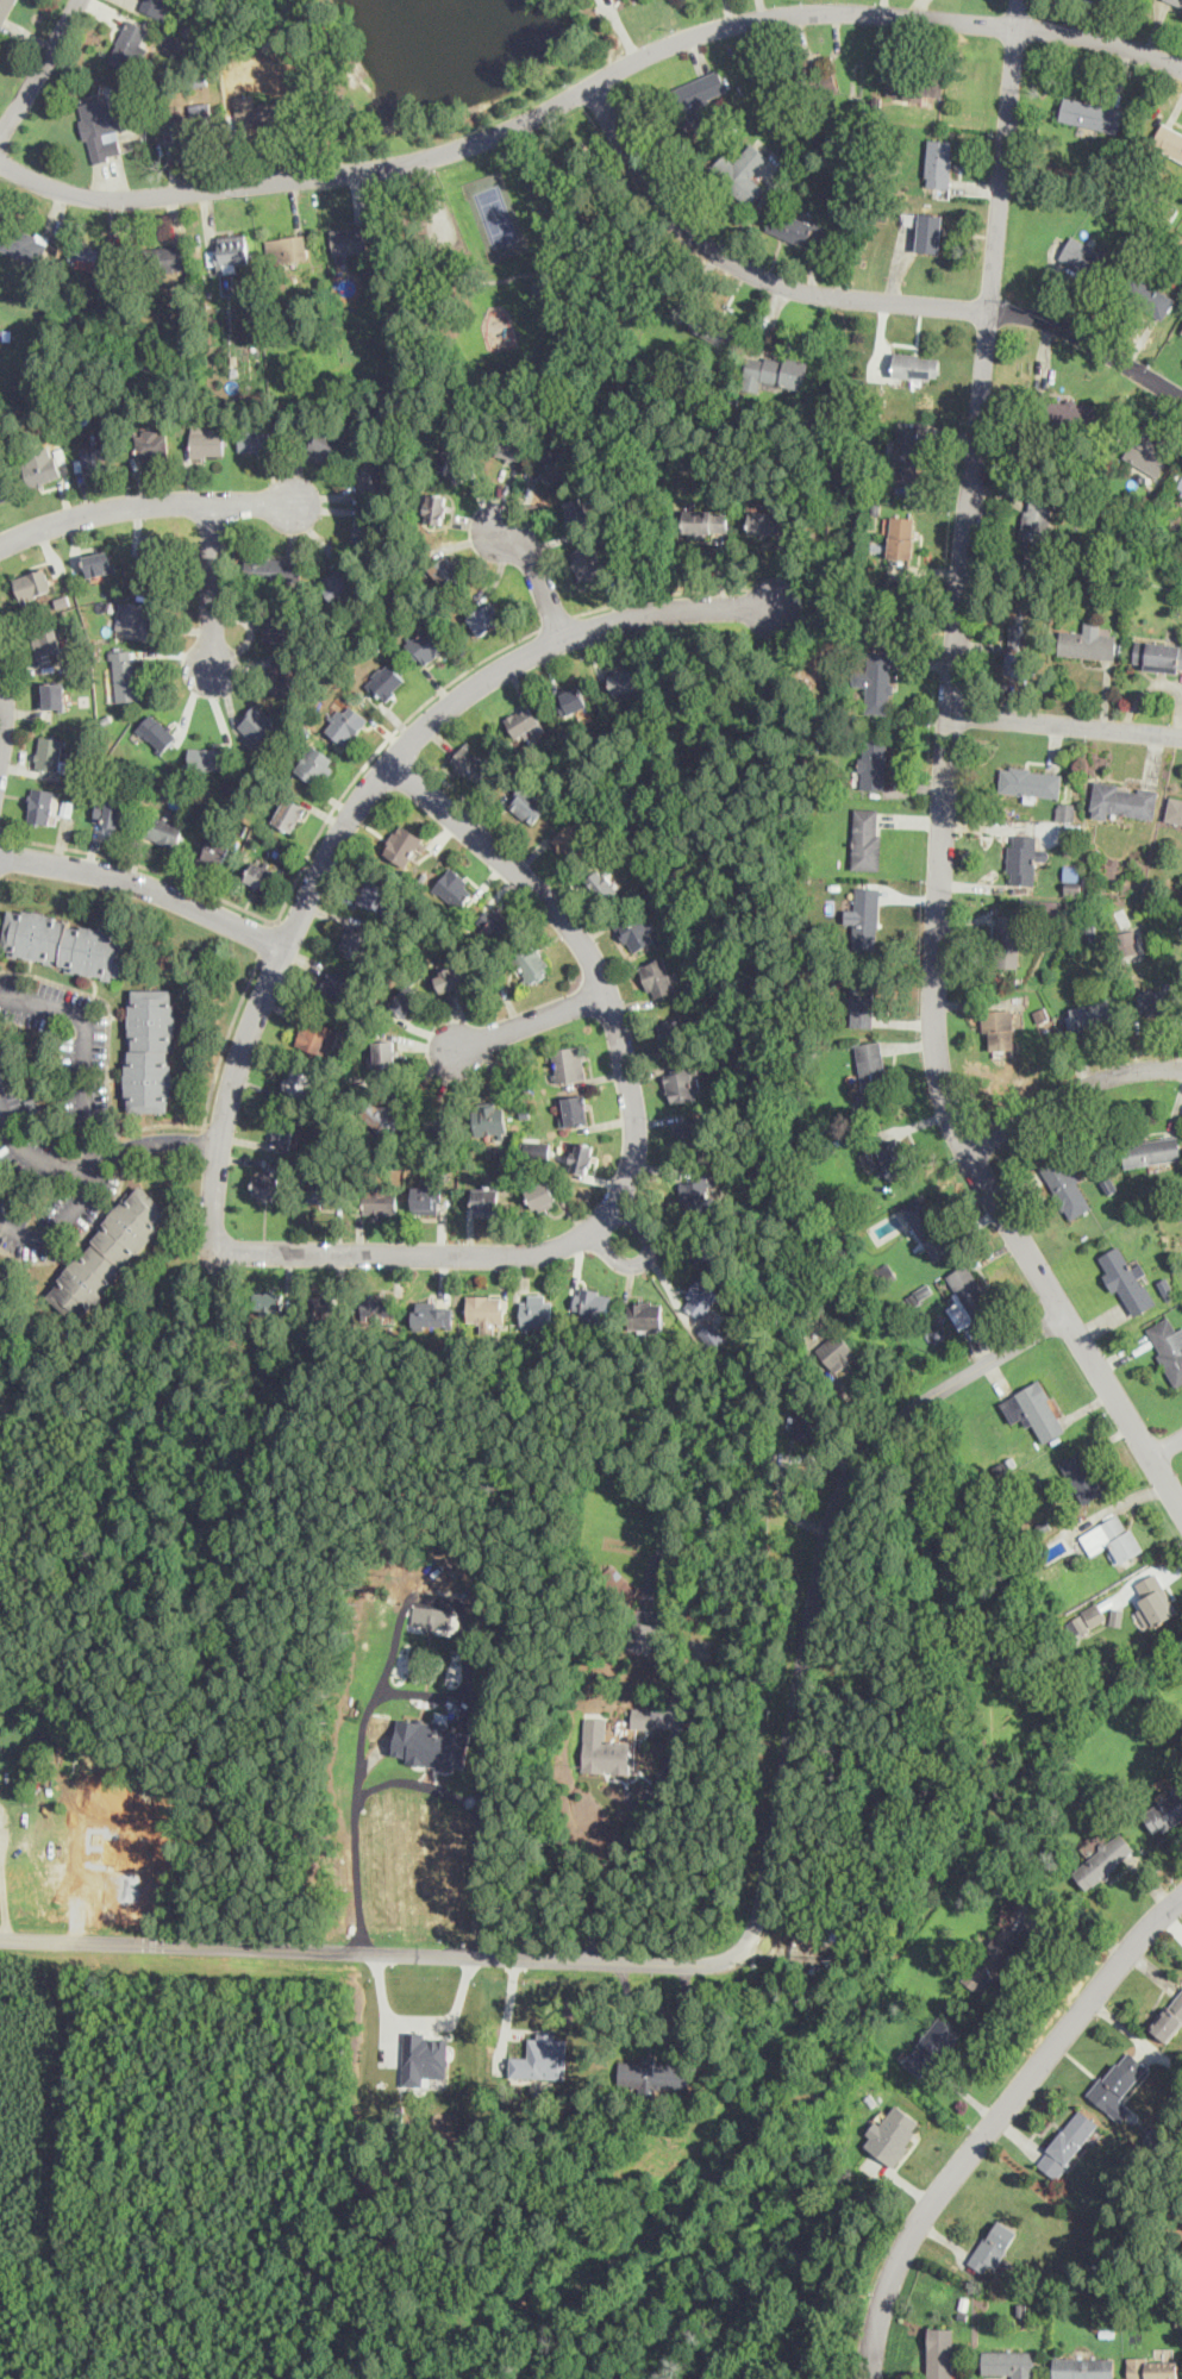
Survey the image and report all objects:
building: (594, 0)
building: (1176, 1)
building: (155, 6)
building: (5, 8)
building: (129, 44)
road: (40, 69)
road: (587, 84)
building: (914, 84)
building: (693, 95)
building: (256, 111)
building: (1090, 113)
building: (192, 123)
building: (100, 127)
building: (1169, 139)
building: (938, 162)
building: (742, 173)
park: (498, 215)
building: (800, 227)
building: (930, 232)
building: (350, 240)
building: (23, 243)
building: (287, 248)
building: (229, 252)
building: (92, 258)
building: (168, 258)
building: (1088, 258)
park: (532, 269)
building: (540, 286)
road: (849, 296)
building: (1149, 298)
building: (713, 328)
building: (2, 332)
building: (914, 365)
building: (774, 371)
building: (1071, 413)
building: (256, 437)
building: (151, 440)
building: (207, 440)
building: (329, 443)
building: (512, 446)
building: (1147, 449)
building: (99, 451)
building: (905, 455)
building: (452, 461)
building: (556, 464)
building: (43, 470)
building: (375, 480)
building: (1180, 483)
building: (1, 493)
building: (1181, 493)
road: (144, 502)
building: (436, 507)
building: (577, 512)
building: (705, 519)
building: (768, 521)
building: (1037, 527)
building: (364, 531)
building: (899, 536)
building: (588, 561)
building: (99, 565)
building: (274, 570)
building: (445, 575)
road: (538, 575)
building: (32, 583)
building: (338, 583)
road: (211, 588)
road: (658, 593)
building: (136, 616)
building: (482, 620)
road: (557, 621)
building: (275, 627)
building: (1019, 636)
building: (48, 640)
building: (1088, 643)
building: (426, 645)
building: (1159, 656)
building: (125, 672)
building: (283, 675)
building: (624, 681)
building: (876, 681)
building: (386, 682)
building: (55, 694)
building: (576, 699)
road: (1, 707)
building: (257, 720)
building: (348, 720)
building: (523, 720)
road: (1065, 724)
building: (158, 732)
building: (51, 753)
building: (208, 757)
building: (471, 760)
building: (874, 764)
building: (314, 765)
building: (1030, 782)
road: (945, 784)
road: (362, 799)
building: (1121, 800)
building: (530, 805)
building: (43, 806)
building: (1174, 809)
building: (1063, 810)
building: (111, 812)
building: (290, 812)
building: (165, 829)
road: (1, 833)
building: (867, 838)
building: (574, 839)
building: (405, 844)
building: (213, 849)
building: (1022, 858)
road: (299, 871)
building: (1071, 871)
building: (261, 874)
building: (602, 883)
road: (148, 885)
building: (456, 885)
building: (377, 895)
building: (865, 916)
building: (496, 921)
building: (642, 932)
road: (268, 938)
building: (1007, 940)
building: (1126, 941)
building: (64, 943)
building: (359, 944)
building: (533, 962)
building: (658, 976)
building: (452, 977)
building: (337, 987)
building: (406, 998)
building: (1161, 998)
building: (862, 1003)
building: (1090, 1013)
road: (527, 1022)
building: (996, 1032)
building: (673, 1034)
building: (315, 1037)
road: (225, 1040)
building: (149, 1050)
road: (107, 1053)
building: (383, 1053)
building: (573, 1062)
building: (871, 1072)
building: (294, 1075)
building: (681, 1085)
road: (1069, 1090)
building: (576, 1107)
building: (388, 1115)
road: (88, 1116)
building: (438, 1122)
building: (490, 1123)
building: (282, 1131)
building: (688, 1134)
road: (156, 1140)
road: (633, 1146)
building: (538, 1150)
building: (1151, 1151)
road: (35, 1154)
building: (581, 1156)
building: (889, 1158)
building: (1067, 1185)
building: (268, 1187)
building: (430, 1189)
building: (705, 1189)
building: (320, 1191)
building: (542, 1195)
building: (486, 1196)
building: (331, 1201)
building: (377, 1203)
building: (927, 1227)
building: (110, 1253)
building: (711, 1253)
road: (645, 1256)
building: (1127, 1278)
building: (7, 1283)
building: (701, 1296)
building: (968, 1296)
building: (264, 1301)
building: (324, 1303)
building: (381, 1304)
building: (590, 1304)
building: (486, 1308)
building: (431, 1311)
building: (536, 1311)
building: (644, 1317)
building: (713, 1334)
building: (1169, 1346)
building: (836, 1352)
building: (1033, 1410)
building: (806, 1422)
road: (1167, 1446)
building: (1081, 1476)
building: (1113, 1538)
road: (436, 1598)
building: (1153, 1599)
building: (1092, 1614)
building: (432, 1616)
building: (646, 1623)
road: (425, 1694)
building: (642, 1716)
building: (431, 1743)
building: (602, 1748)
road: (415, 1780)
road: (642, 1810)
building: (1164, 1810)
building: (1103, 1859)
road: (2, 1879)
road: (1074, 1923)
road: (745, 1945)
building: (997, 1959)
road: (423, 2011)
building: (1168, 2018)
building: (932, 2043)
building: (424, 2058)
building: (540, 2058)
building: (653, 2073)
building: (1117, 2084)
road: (994, 2118)
building: (893, 2134)
building: (1068, 2142)
building: (992, 2246)
building: (942, 2353)
building: (1009, 2362)
building: (1083, 2367)
building: (1153, 2367)

